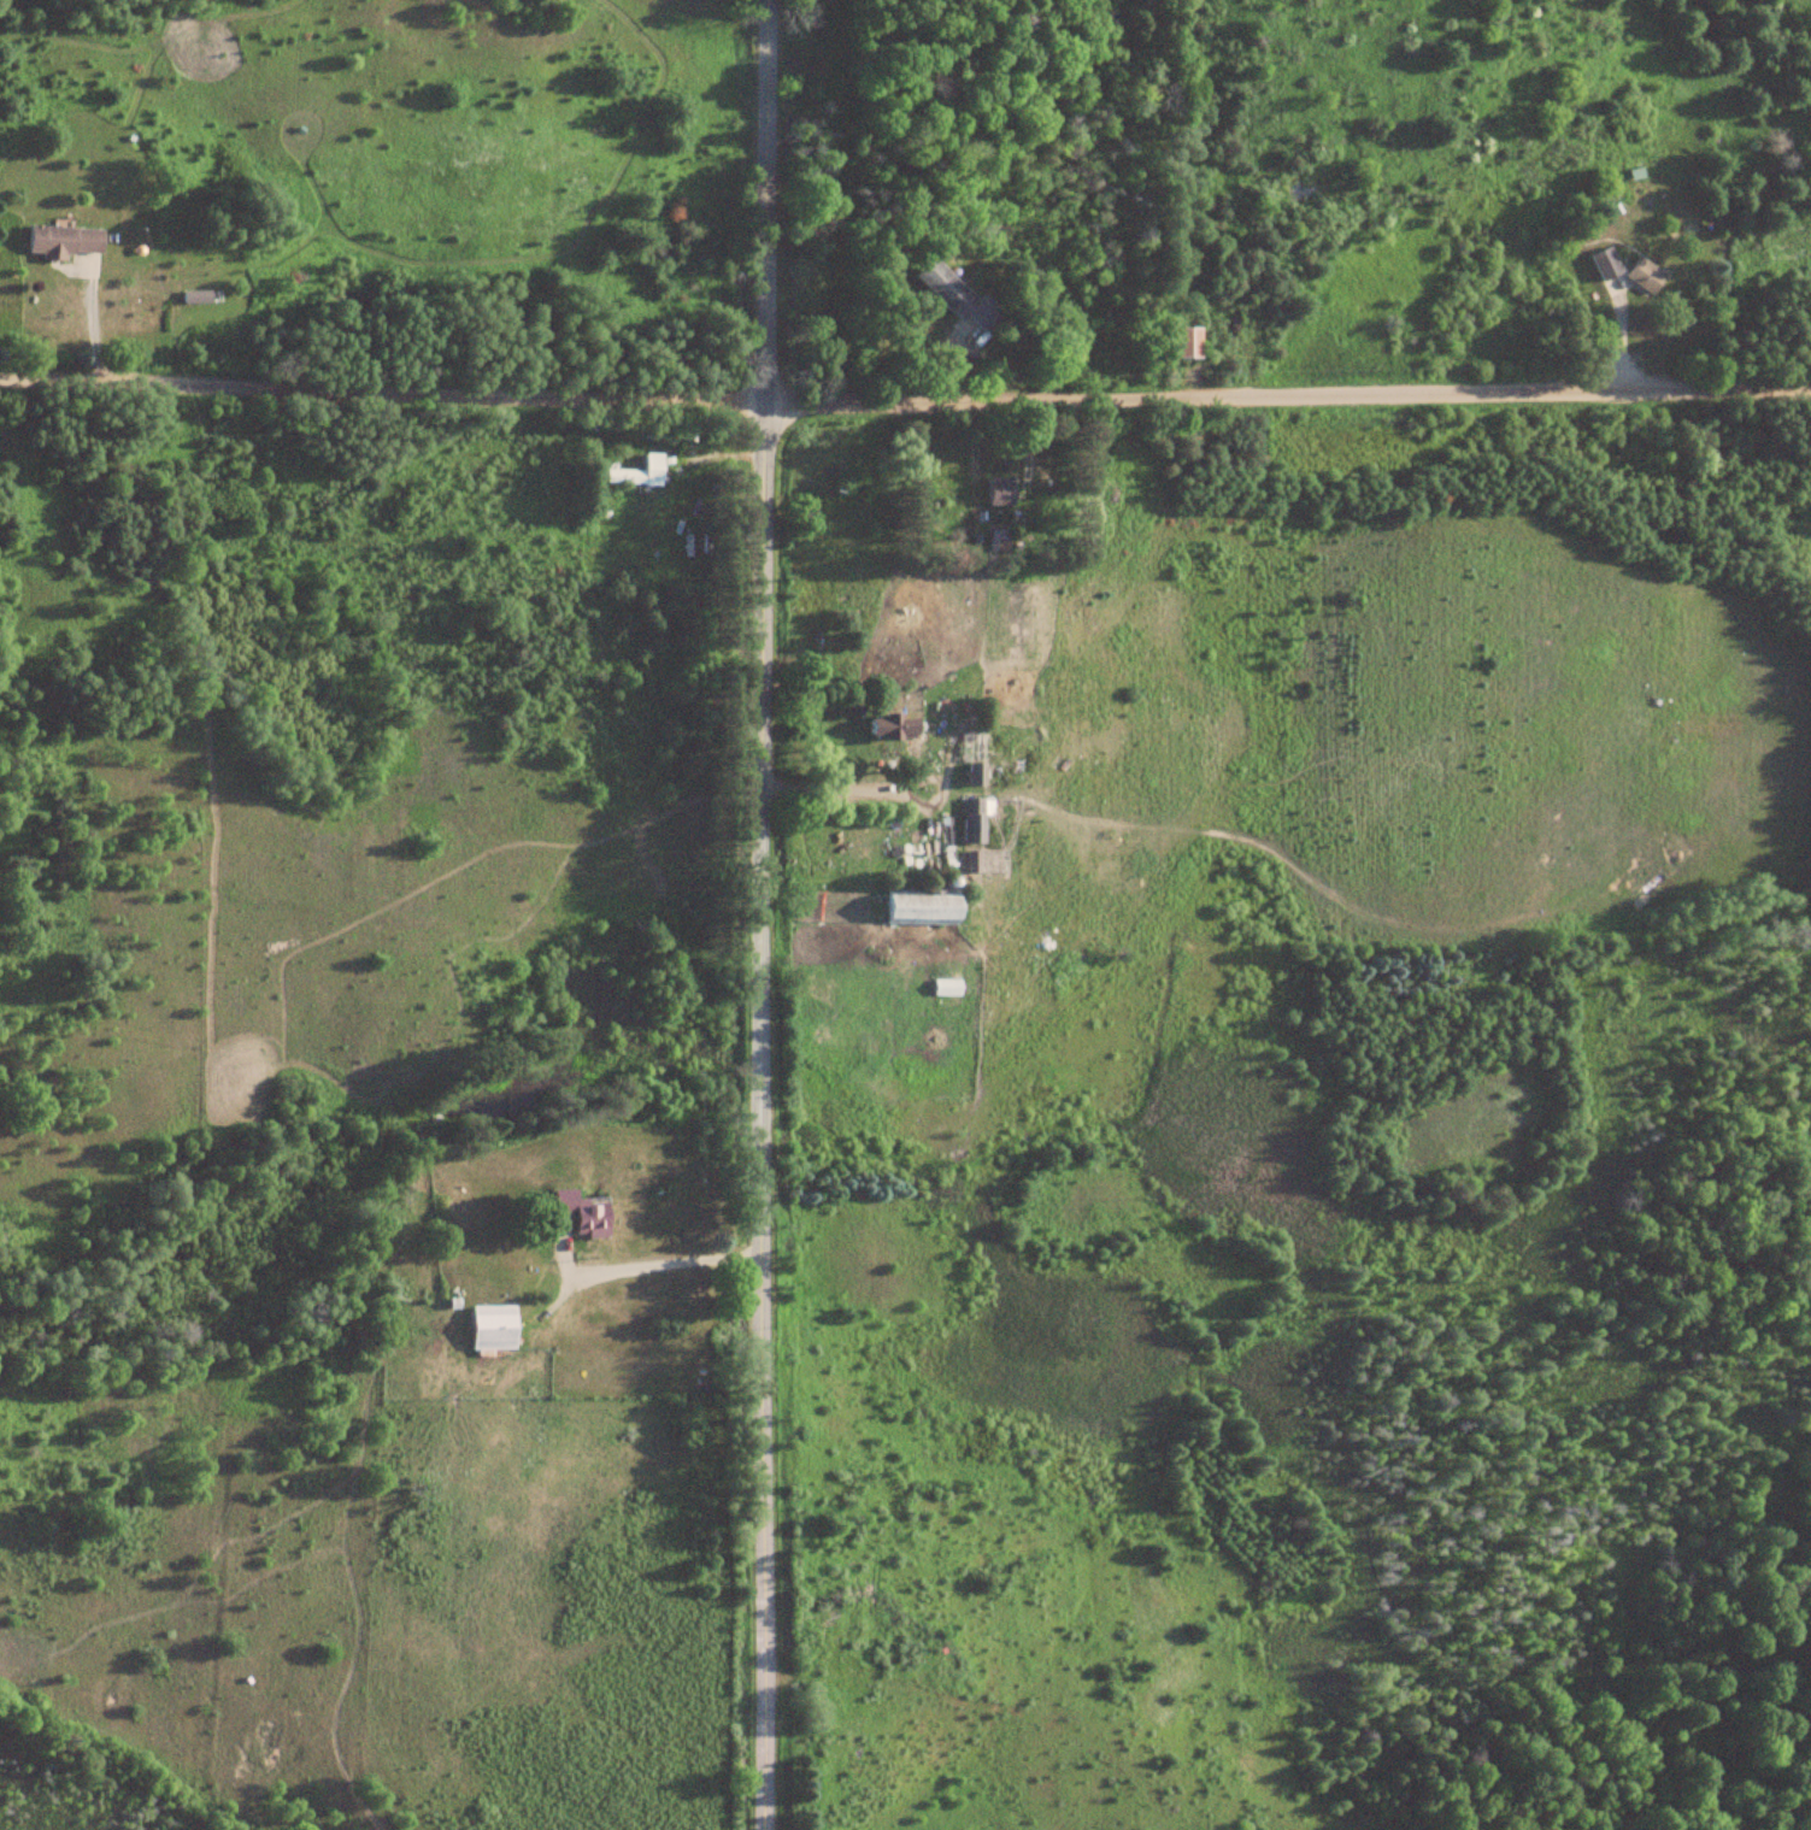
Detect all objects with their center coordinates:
building: (66, 241)
building: (1609, 264)
building: (1648, 276)
building: (958, 298)
building: (1189, 345)
road: (905, 401)
building: (641, 471)
building: (1002, 490)
building: (896, 726)
building: (977, 776)
building: (975, 820)
building: (975, 861)
building: (924, 908)
road: (764, 914)
building: (948, 987)
building: (583, 1212)
building: (494, 1329)

